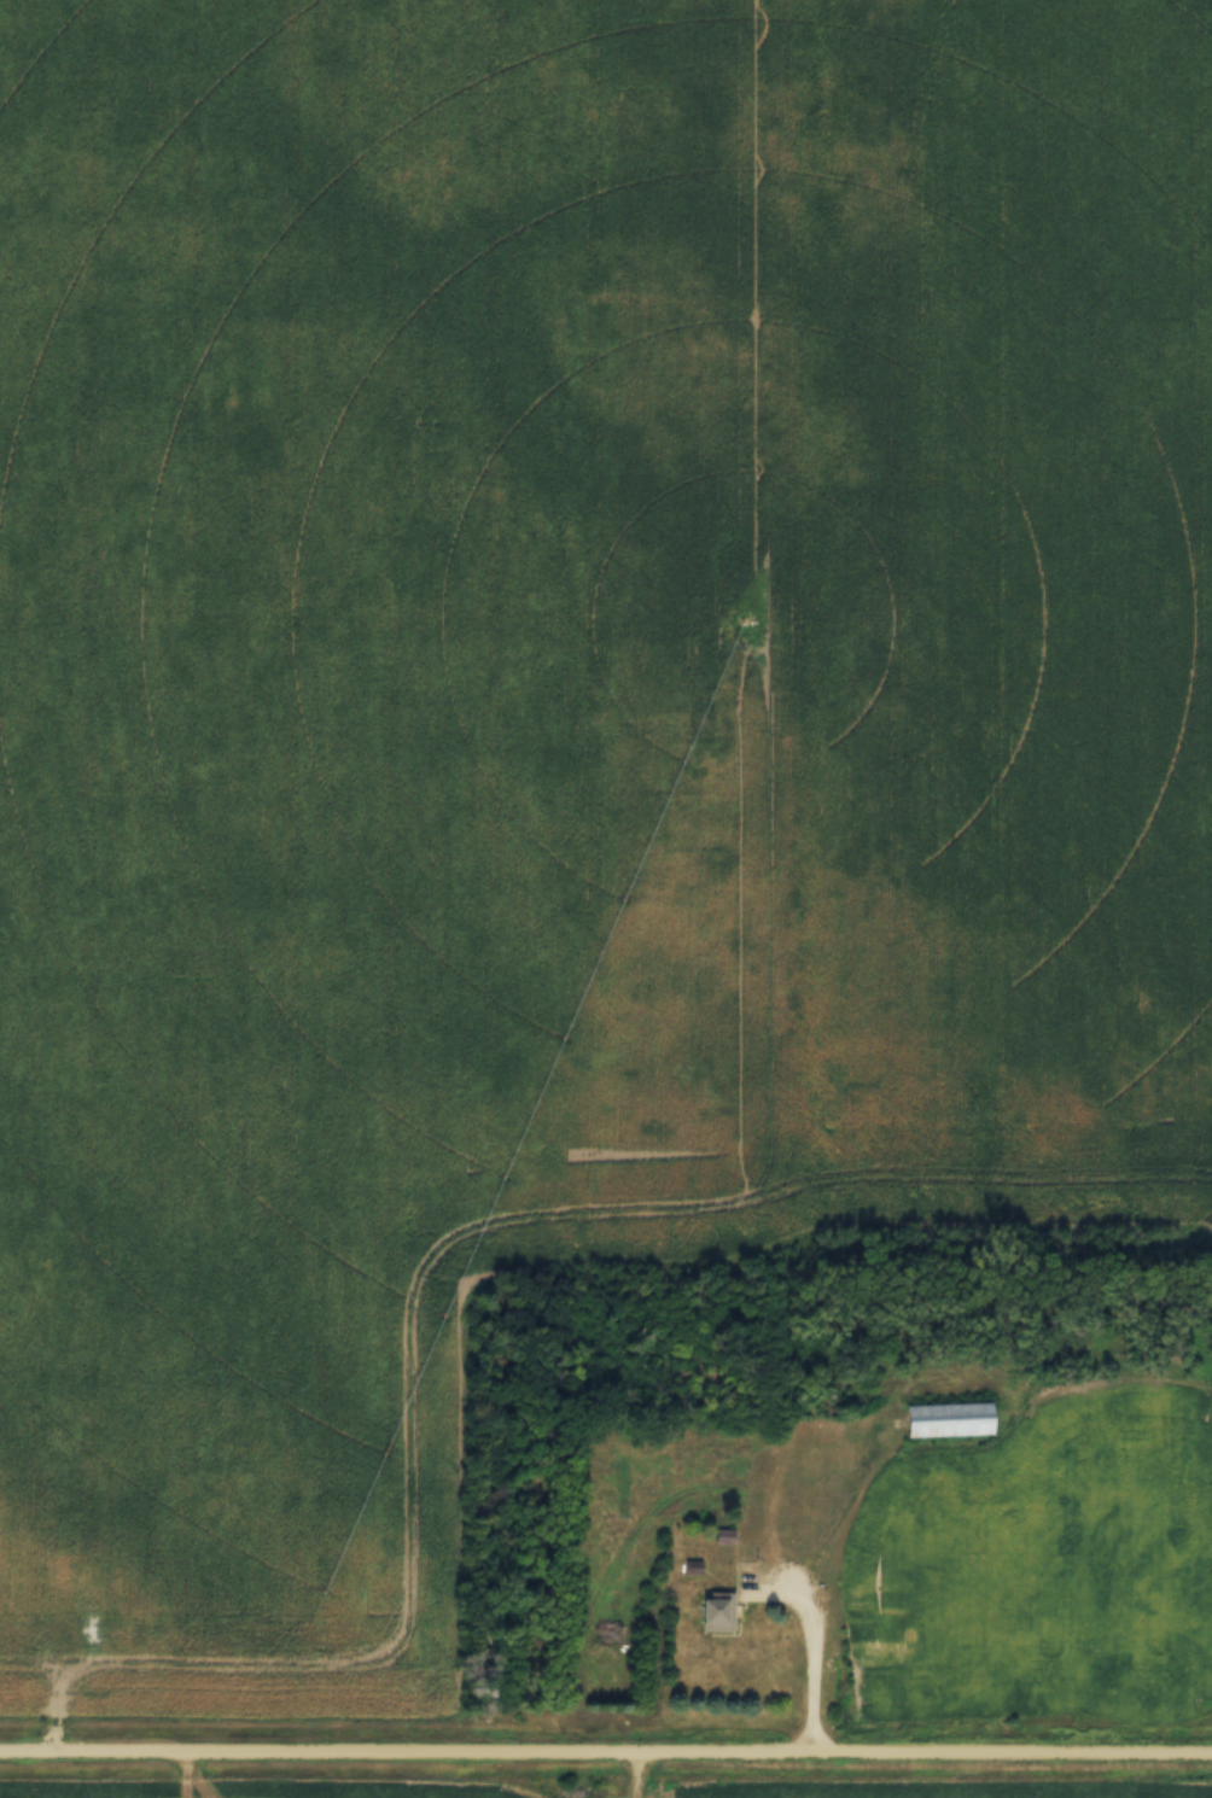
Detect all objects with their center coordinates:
building: (874, 1401)
building: (823, 1406)
building: (948, 1417)
building: (723, 1533)
building: (692, 1568)
building: (716, 1612)
building: (872, 1621)
road: (810, 1633)
road: (811, 1722)
road: (605, 1747)

